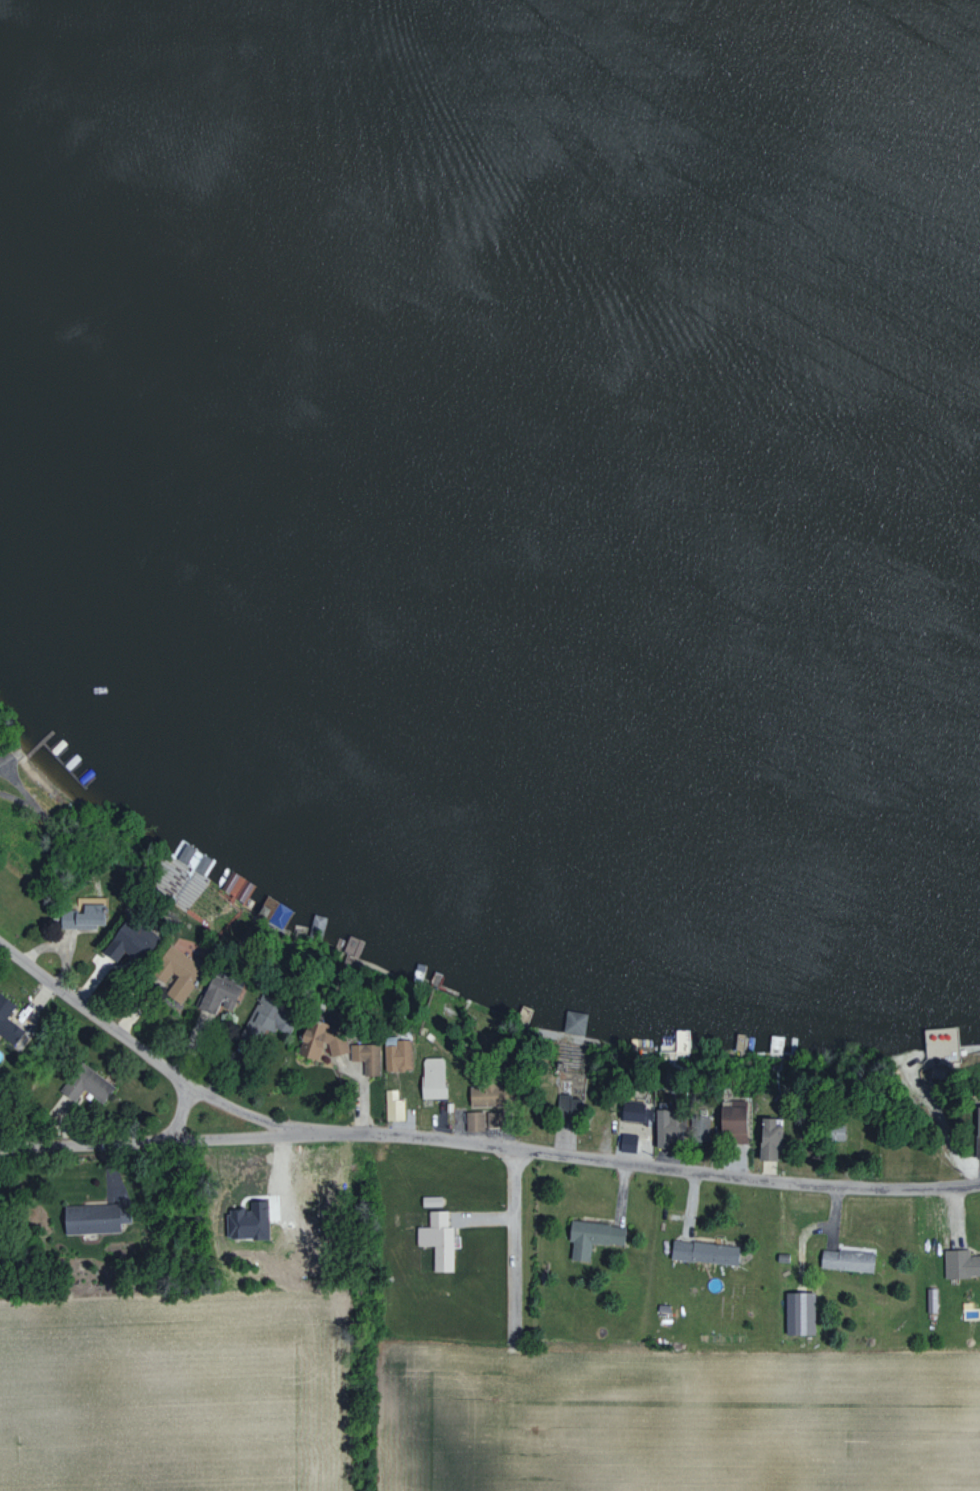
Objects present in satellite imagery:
river: (456, 473)
building: (184, 853)
building: (273, 911)
building: (82, 917)
building: (128, 944)
building: (175, 971)
building: (215, 994)
road: (91, 1014)
building: (573, 1022)
building: (321, 1041)
building: (396, 1054)
building: (365, 1057)
building: (432, 1077)
building: (84, 1083)
building: (480, 1096)
building: (567, 1103)
building: (393, 1105)
building: (630, 1111)
building: (472, 1120)
building: (731, 1121)
building: (696, 1127)
building: (666, 1128)
building: (833, 1132)
building: (976, 1133)
road: (224, 1136)
building: (766, 1139)
road: (111, 1142)
building: (626, 1142)
road: (578, 1158)
building: (430, 1201)
road: (513, 1204)
building: (89, 1218)
building: (246, 1222)
building: (591, 1237)
building: (437, 1240)
building: (702, 1252)
building: (845, 1259)
building: (960, 1263)
building: (931, 1300)
building: (798, 1313)

